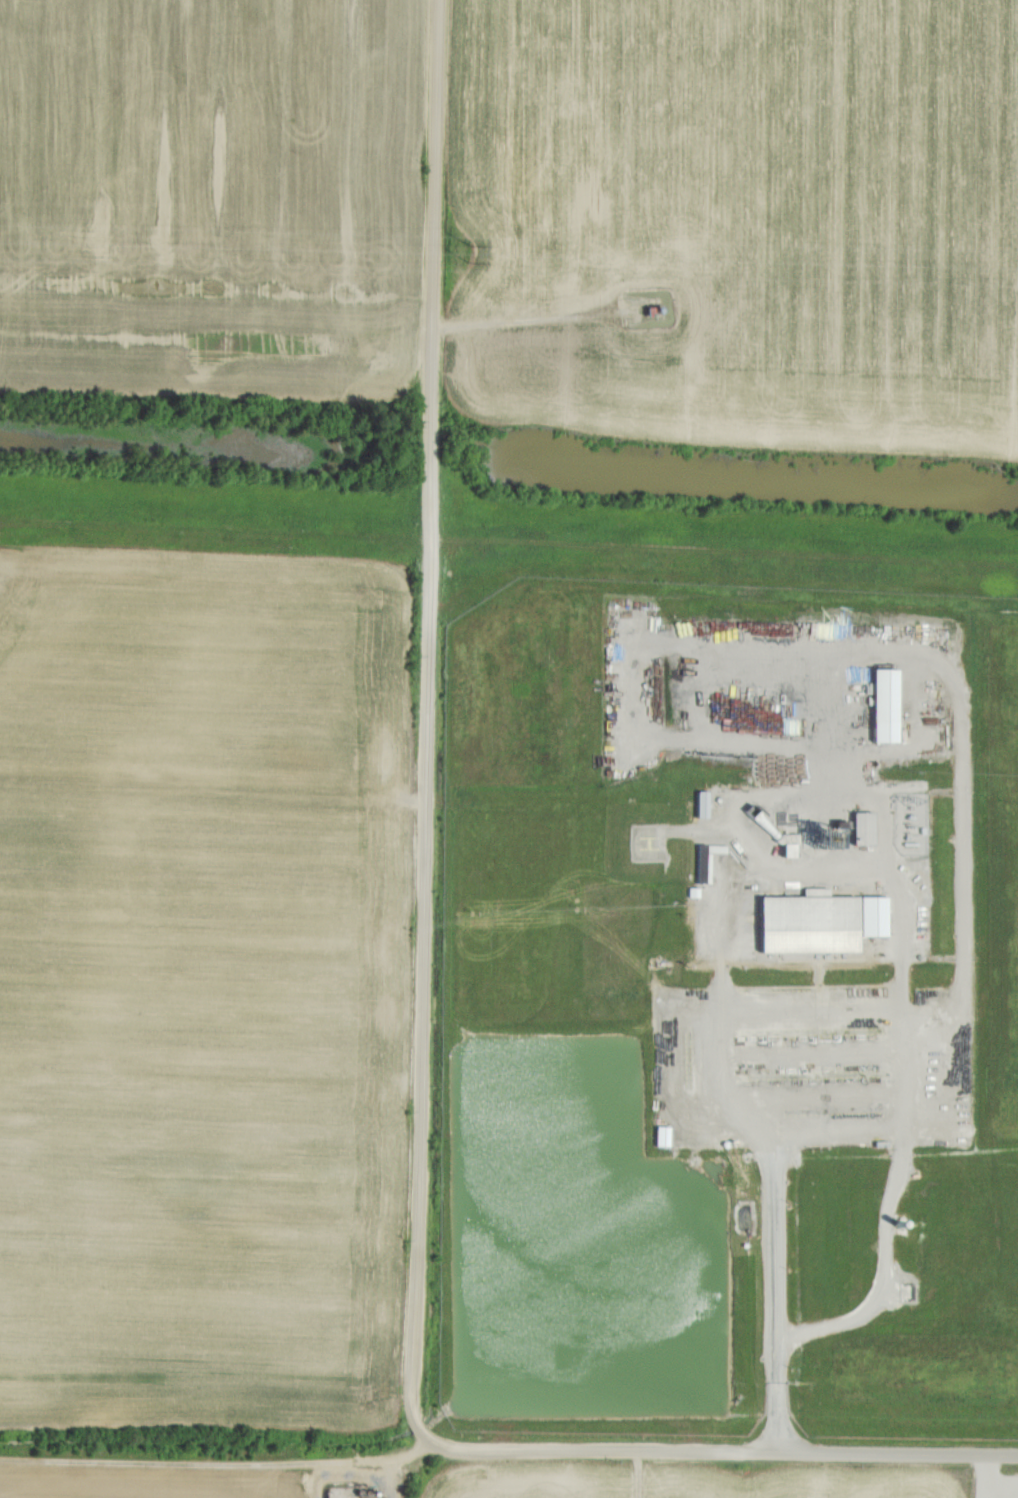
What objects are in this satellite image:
power tower: (473, 255)
road: (532, 323)
building: (886, 707)
road: (429, 760)
road: (215, 793)
building: (702, 805)
building: (864, 829)
building: (702, 865)
road: (779, 867)
building: (873, 917)
building: (808, 925)
building: (662, 1138)
building: (909, 1294)
road: (760, 1453)
road: (219, 1461)
road: (640, 1475)

